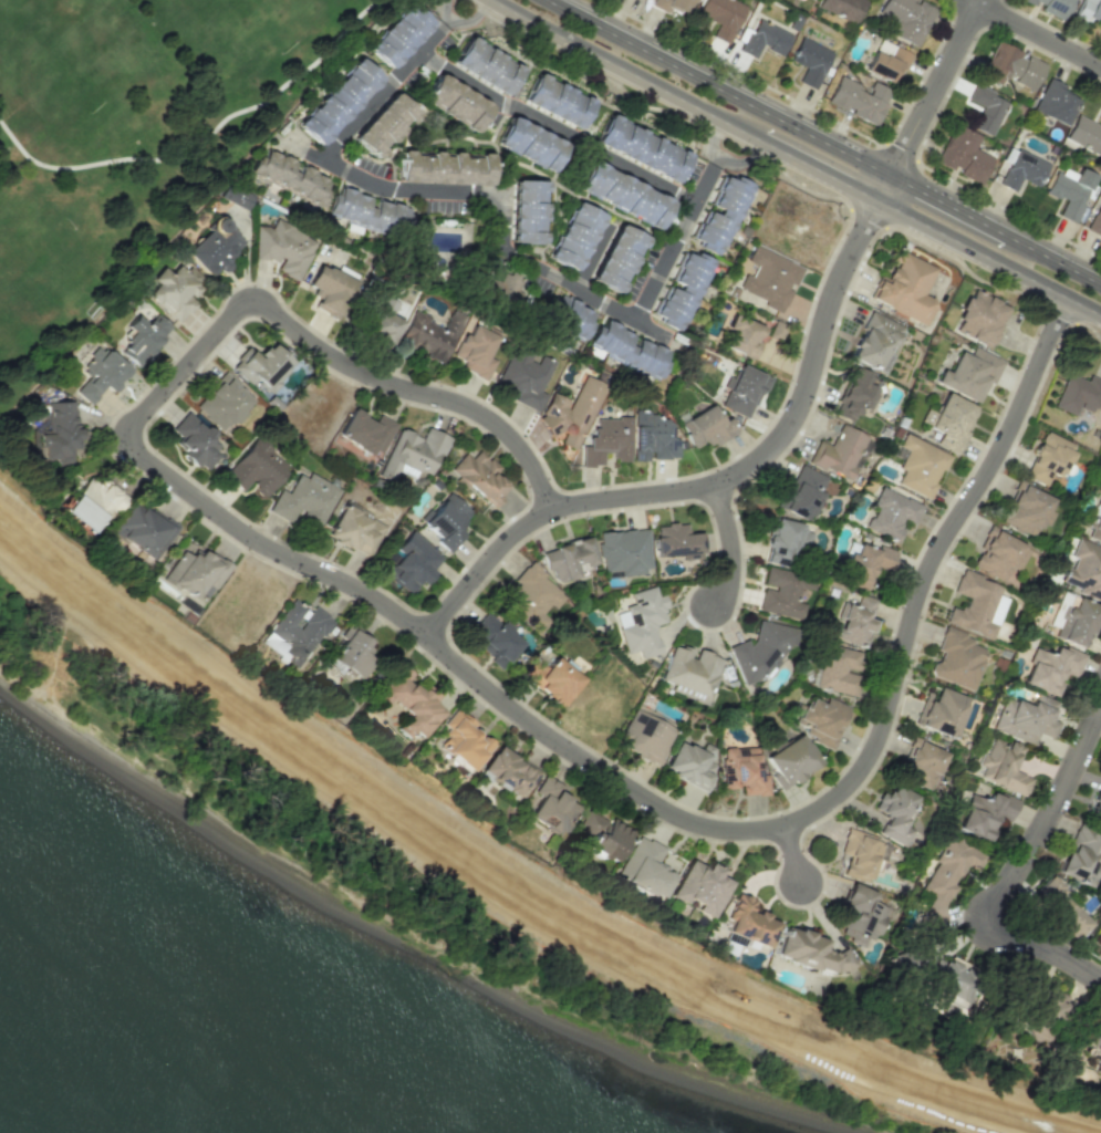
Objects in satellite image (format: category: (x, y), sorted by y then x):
building: (672, 6)
building: (1051, 7)
road: (438, 9)
building: (1089, 10)
building: (721, 17)
road: (468, 19)
building: (904, 19)
park: (239, 32)
road: (1037, 33)
building: (397, 35)
building: (765, 39)
building: (810, 61)
building: (886, 61)
park: (61, 63)
building: (485, 65)
building: (1011, 66)
road: (385, 90)
building: (859, 100)
building: (336, 101)
building: (554, 101)
building: (454, 102)
building: (1055, 103)
building: (987, 110)
building: (383, 124)
road: (557, 127)
building: (1086, 134)
road: (712, 138)
park: (131, 141)
road: (822, 141)
building: (528, 144)
building: (638, 148)
building: (964, 154)
road: (796, 158)
road: (740, 163)
building: (443, 167)
building: (1021, 170)
building: (288, 178)
building: (1070, 190)
building: (622, 195)
building: (235, 196)
road: (502, 196)
building: (526, 211)
building: (720, 214)
building: (1095, 220)
building: (572, 236)
road: (674, 242)
building: (282, 248)
building: (212, 250)
road: (592, 253)
building: (615, 258)
park: (37, 261)
building: (768, 279)
building: (904, 288)
building: (329, 290)
building: (681, 290)
building: (175, 291)
building: (569, 316)
building: (979, 318)
building: (381, 325)
building: (776, 330)
building: (429, 334)
building: (143, 337)
building: (741, 337)
building: (874, 341)
building: (626, 349)
building: (474, 351)
road: (326, 353)
building: (261, 366)
building: (100, 373)
building: (969, 373)
building: (523, 376)
building: (742, 391)
building: (1078, 393)
building: (222, 403)
building: (570, 412)
road: (793, 414)
building: (948, 422)
building: (705, 427)
building: (56, 430)
building: (366, 432)
building: (652, 437)
building: (606, 439)
building: (196, 441)
building: (839, 453)
building: (412, 454)
building: (1048, 458)
building: (920, 466)
building: (256, 467)
building: (478, 475)
building: (802, 492)
building: (101, 496)
building: (303, 500)
building: (1099, 501)
building: (1026, 509)
building: (890, 513)
building: (445, 521)
building: (1093, 529)
building: (145, 530)
building: (353, 531)
building: (677, 541)
building: (783, 541)
road: (733, 543)
building: (624, 551)
building: (998, 554)
building: (568, 559)
building: (412, 562)
building: (865, 563)
building: (1084, 570)
building: (197, 571)
building: (782, 592)
building: (531, 596)
building: (976, 605)
building: (853, 621)
building: (641, 622)
building: (299, 630)
building: (496, 641)
building: (761, 651)
building: (351, 653)
building: (957, 658)
building: (1050, 667)
building: (839, 668)
building: (690, 673)
building: (551, 679)
building: (409, 703)
building: (941, 711)
building: (1025, 718)
building: (823, 720)
building: (644, 736)
building: (464, 740)
building: (791, 760)
building: (690, 762)
building: (921, 765)
building: (1001, 766)
building: (742, 771)
building: (509, 772)
building: (1095, 804)
building: (550, 807)
building: (894, 813)
building: (985, 813)
road: (700, 823)
building: (603, 835)
building: (1080, 853)
building: (862, 855)
road: (793, 856)
building: (651, 867)
road: (1012, 879)
building: (946, 880)
road: (497, 884)
building: (700, 887)
building: (1063, 909)
building: (861, 917)
building: (750, 921)
building: (812, 952)
building: (1100, 954)
building: (948, 986)
building: (1050, 1005)
river: (176, 1041)
building: (1094, 1046)

